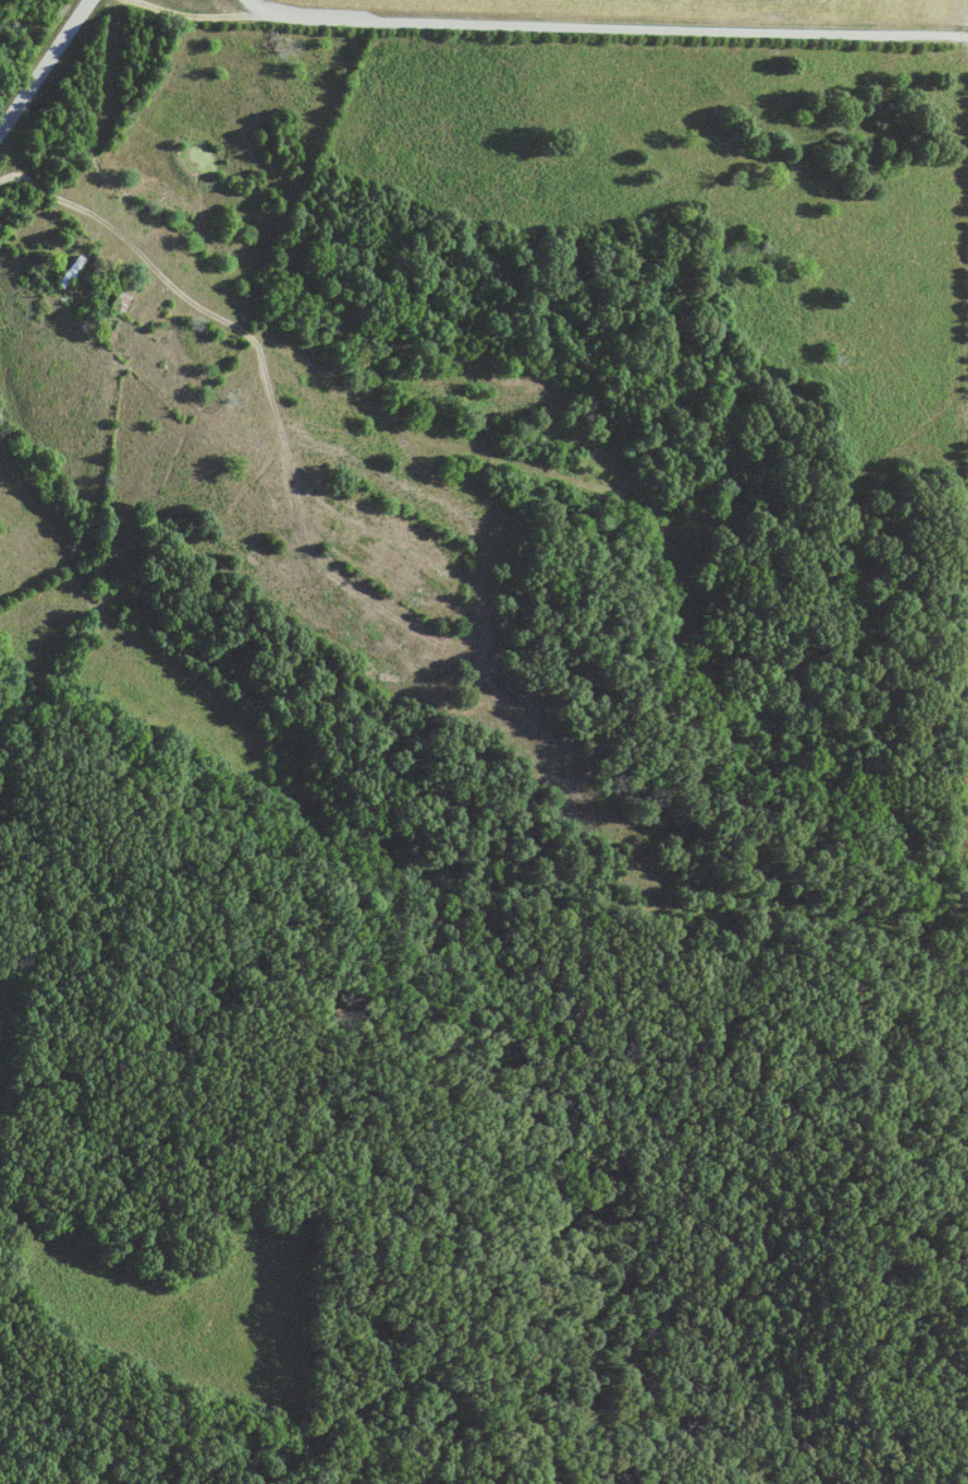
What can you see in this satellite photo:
road: (549, 25)
road: (43, 61)
road: (67, 206)

